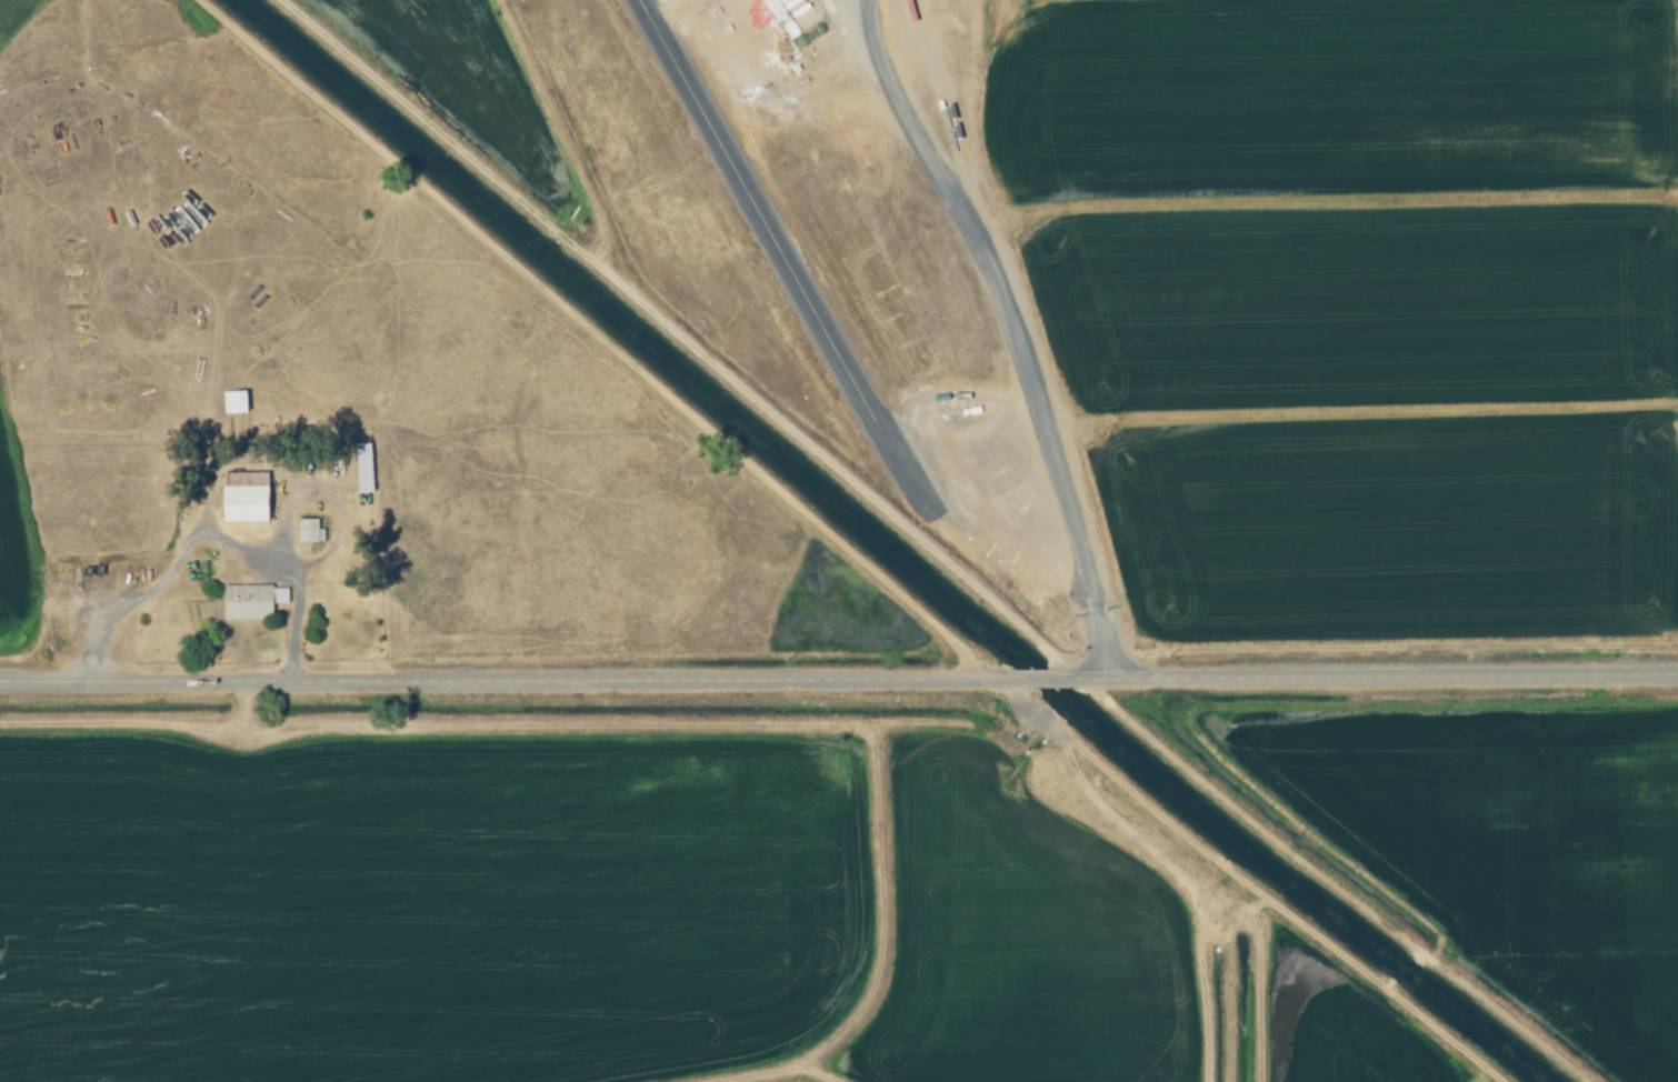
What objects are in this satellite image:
building: (798, 16)
airport runway: (755, 209)
road: (1011, 333)
building: (237, 402)
building: (366, 468)
building: (247, 497)
building: (310, 531)
building: (252, 601)
road: (1364, 682)
road: (525, 688)

